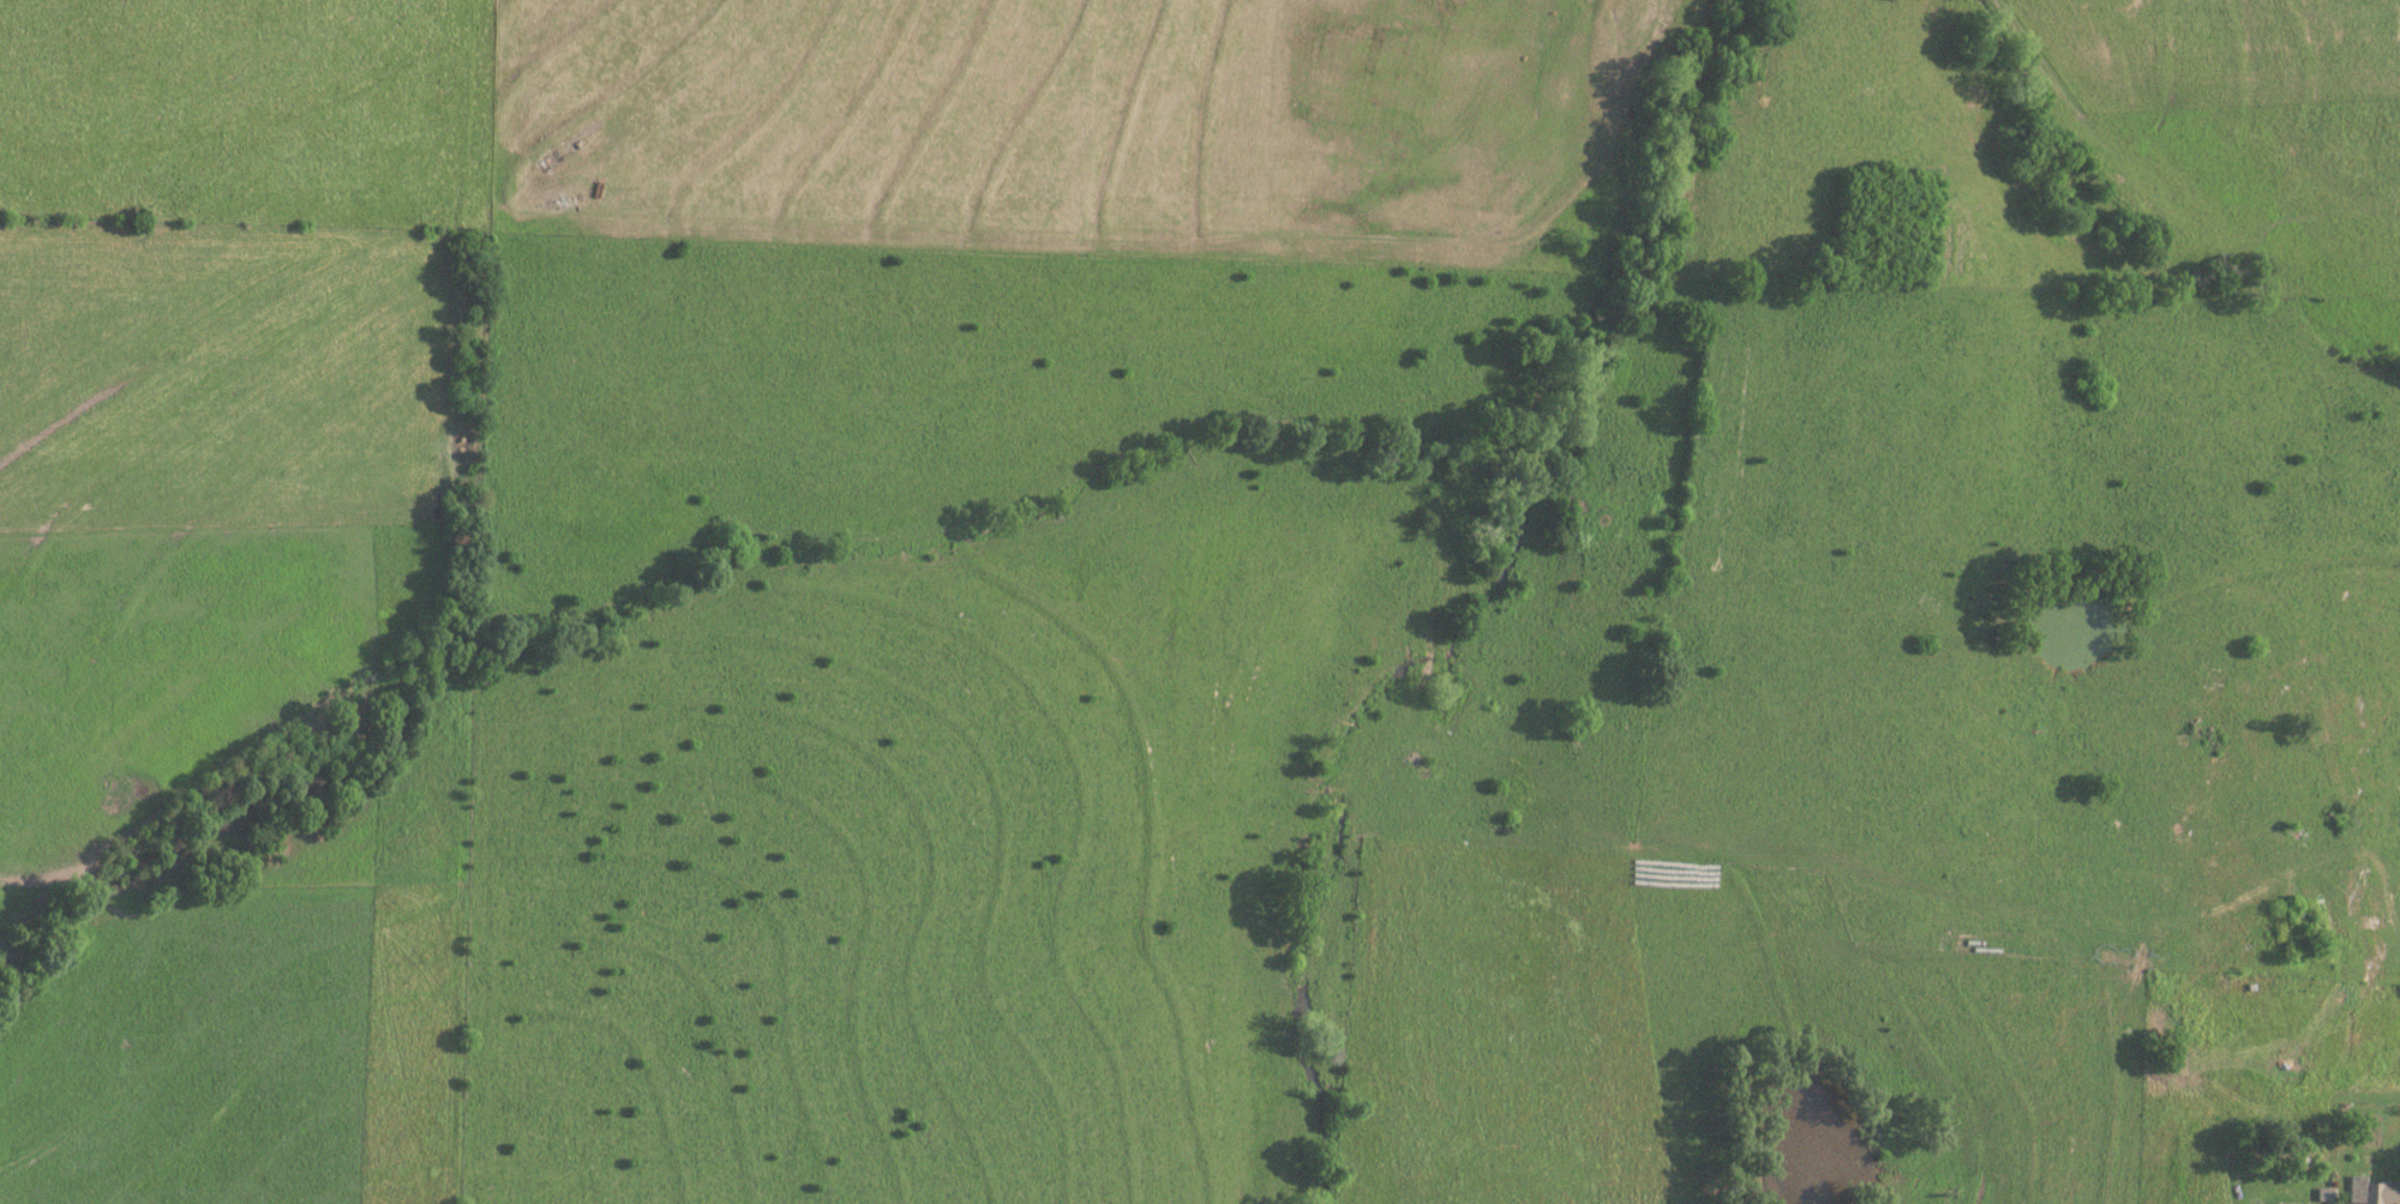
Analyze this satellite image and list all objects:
building: (2365, 1190)
road: (2387, 1193)

